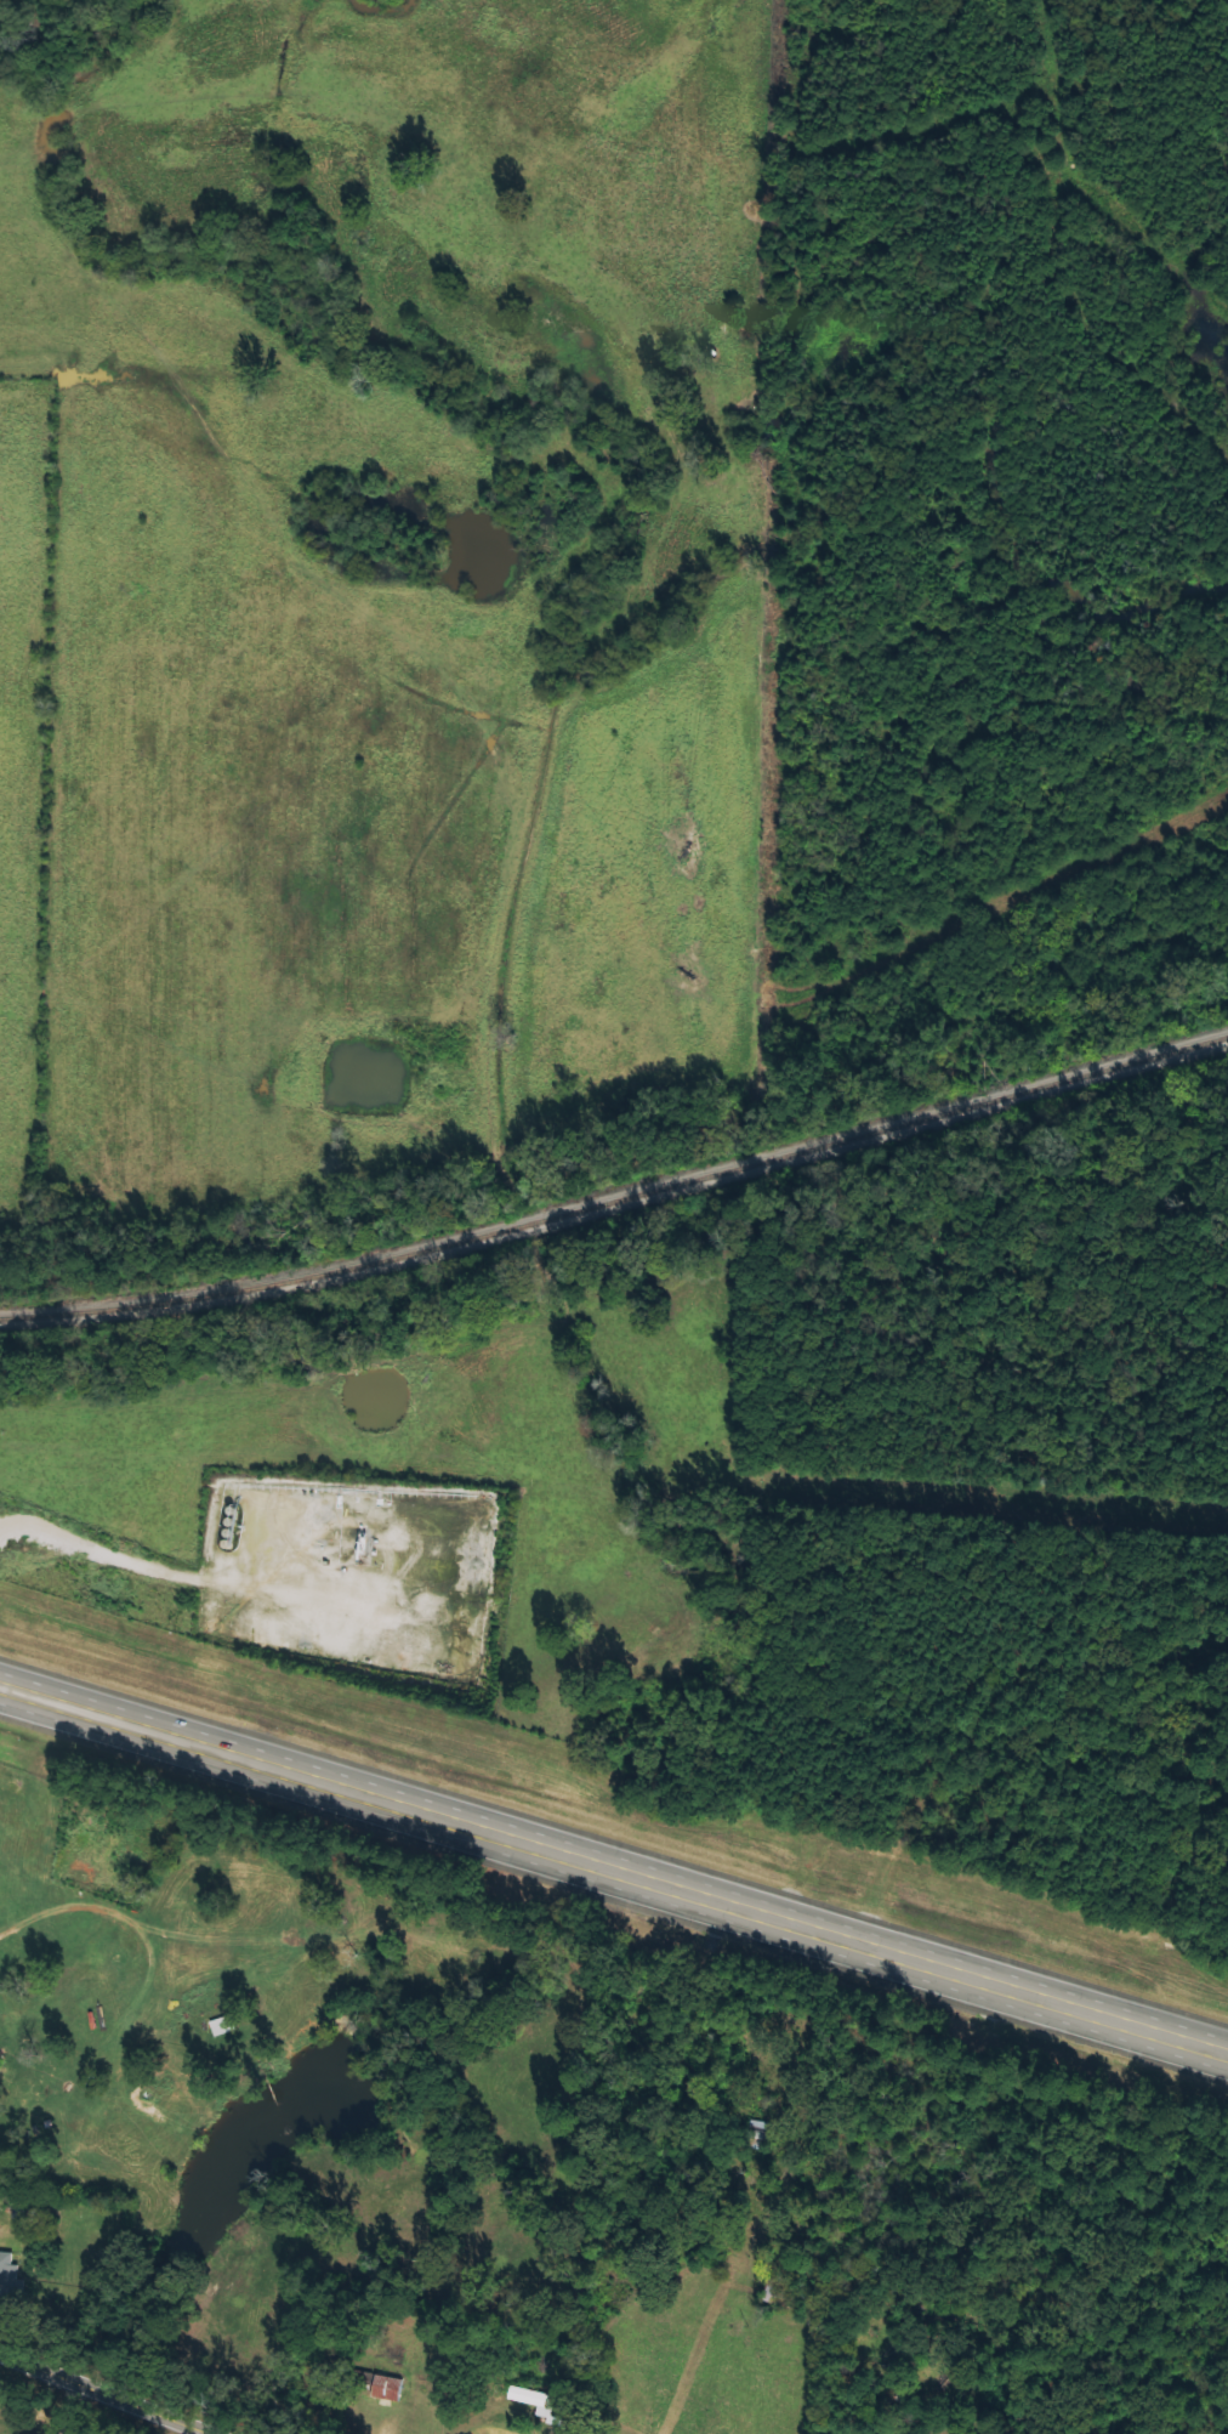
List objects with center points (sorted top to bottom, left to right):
railway: (619, 1202)
road: (614, 1871)
building: (10, 2277)
building: (385, 2388)
road: (96, 2396)
building: (524, 2396)

